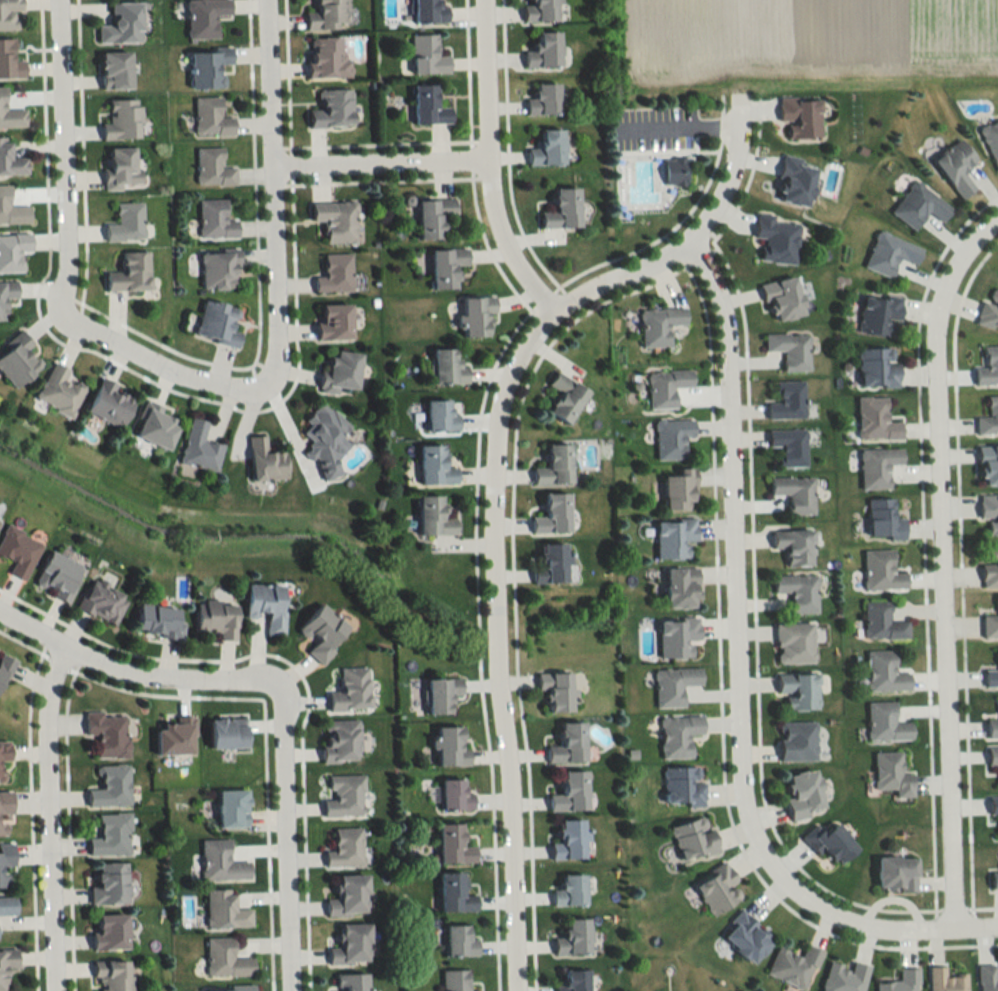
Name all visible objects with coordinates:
building: (541, 11)
building: (429, 12)
building: (10, 15)
building: (328, 15)
building: (205, 18)
building: (122, 24)
crop: (808, 37)
building: (544, 52)
building: (427, 56)
building: (328, 58)
building: (9, 62)
building: (208, 68)
building: (115, 71)
building: (543, 101)
building: (428, 107)
building: (332, 110)
building: (10, 115)
building: (801, 115)
building: (211, 119)
building: (122, 120)
building: (991, 140)
building: (547, 149)
road: (376, 158)
road: (63, 160)
building: (11, 162)
road: (485, 163)
building: (956, 166)
building: (121, 168)
building: (213, 168)
building: (674, 171)
road: (731, 179)
building: (795, 180)
road: (271, 205)
building: (919, 205)
building: (11, 209)
building: (562, 210)
building: (433, 217)
building: (214, 220)
building: (336, 220)
road: (993, 220)
building: (125, 222)
building: (777, 239)
building: (12, 251)
building: (889, 253)
building: (446, 266)
building: (218, 270)
building: (129, 272)
building: (334, 274)
building: (6, 294)
building: (783, 297)
building: (989, 309)
building: (476, 314)
building: (879, 314)
building: (334, 320)
building: (217, 322)
building: (659, 324)
building: (789, 349)
road: (154, 357)
building: (17, 359)
building: (446, 366)
building: (877, 366)
building: (988, 367)
building: (339, 371)
building: (665, 386)
building: (58, 390)
building: (565, 396)
building: (787, 400)
building: (109, 403)
building: (441, 416)
building: (988, 418)
building: (875, 419)
building: (155, 425)
building: (671, 437)
building: (325, 439)
building: (789, 446)
building: (198, 447)
building: (265, 461)
building: (554, 465)
building: (988, 465)
building: (435, 466)
building: (877, 467)
building: (678, 488)
building: (794, 493)
building: (989, 512)
building: (552, 514)
building: (433, 517)
building: (883, 520)
building: (674, 537)
building: (794, 546)
building: (18, 550)
road: (493, 564)
building: (551, 564)
road: (939, 564)
building: (989, 566)
road: (732, 567)
building: (881, 572)
building: (57, 576)
building: (681, 588)
building: (797, 592)
building: (101, 601)
building: (266, 605)
building: (215, 618)
building: (159, 621)
building: (882, 623)
building: (989, 626)
building: (321, 632)
building: (677, 637)
building: (793, 643)
building: (4, 668)
building: (884, 672)
road: (130, 674)
building: (991, 674)
building: (673, 685)
building: (350, 690)
building: (556, 690)
building: (798, 690)
building: (441, 694)
building: (997, 697)
building: (885, 723)
building: (992, 727)
building: (107, 733)
building: (226, 733)
building: (678, 735)
building: (173, 737)
building: (340, 740)
building: (797, 741)
building: (568, 743)
building: (449, 747)
building: (4, 751)
building: (992, 755)
building: (891, 774)
building: (0, 776)
building: (683, 786)
building: (110, 787)
building: (570, 792)
building: (803, 794)
building: (344, 795)
building: (454, 795)
building: (993, 806)
building: (4, 807)
building: (231, 808)
road: (47, 816)
road: (287, 835)
building: (110, 836)
building: (694, 839)
building: (569, 840)
building: (830, 843)
building: (452, 845)
building: (345, 848)
building: (5, 861)
building: (220, 862)
building: (896, 873)
building: (994, 880)
building: (109, 884)
building: (718, 889)
building: (570, 891)
building: (454, 893)
building: (348, 896)
building: (7, 905)
building: (224, 910)
road: (889, 925)
building: (109, 932)
building: (747, 936)
building: (573, 937)
building: (459, 941)
building: (350, 945)
building: (225, 959)
building: (6, 965)
building: (794, 966)
building: (112, 974)
building: (845, 977)
building: (986, 978)
building: (454, 980)
building: (573, 980)
building: (945, 980)
building: (351, 982)
building: (900, 982)
building: (229, 987)

